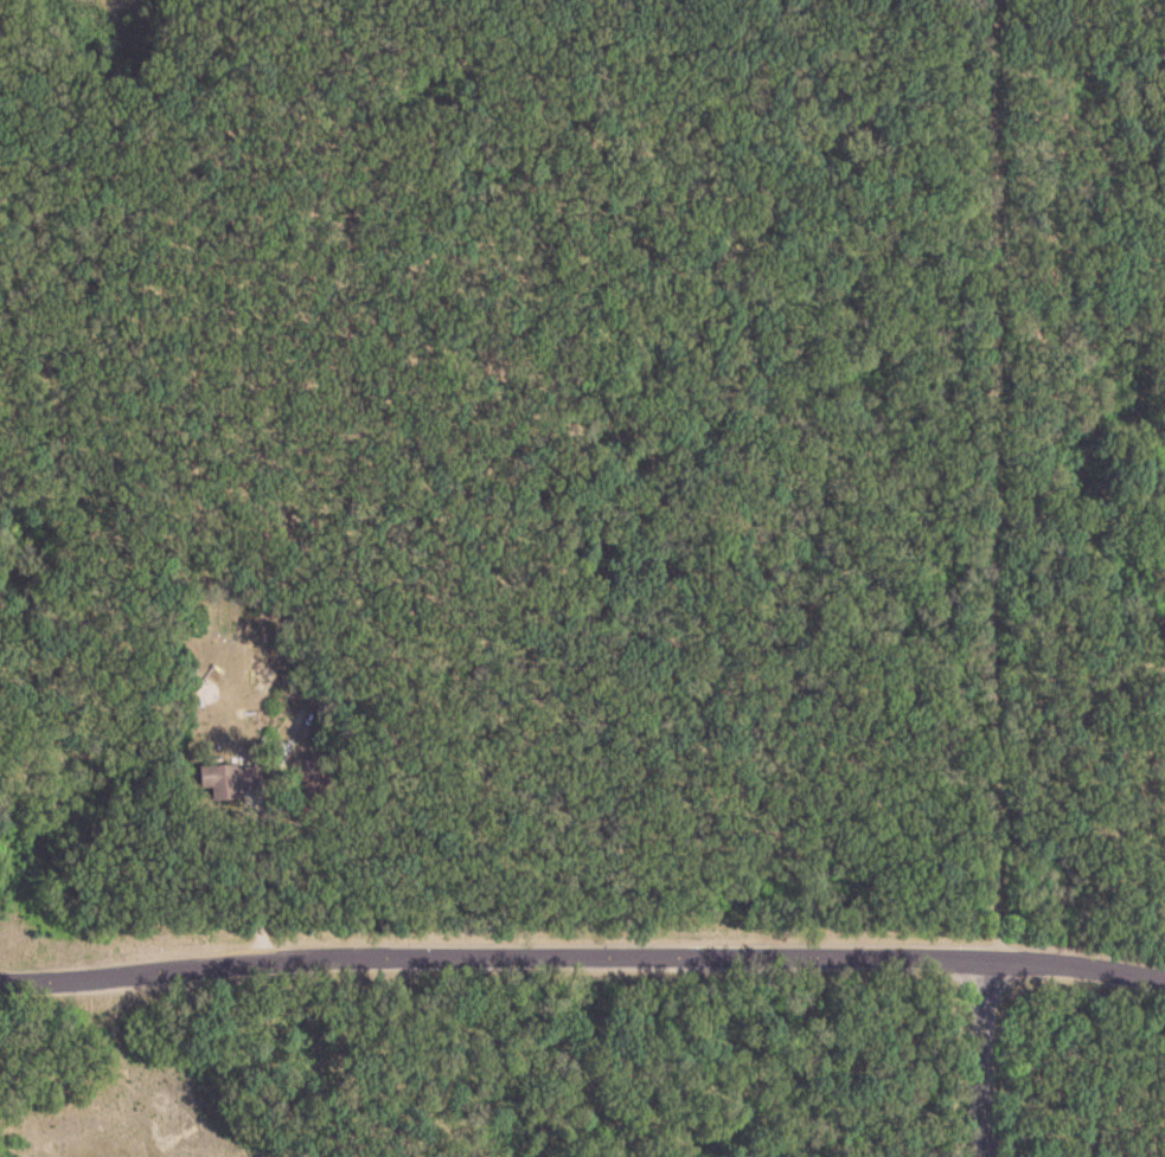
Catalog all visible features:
building: (226, 779)
road: (255, 880)
road: (582, 953)
road: (980, 1056)

